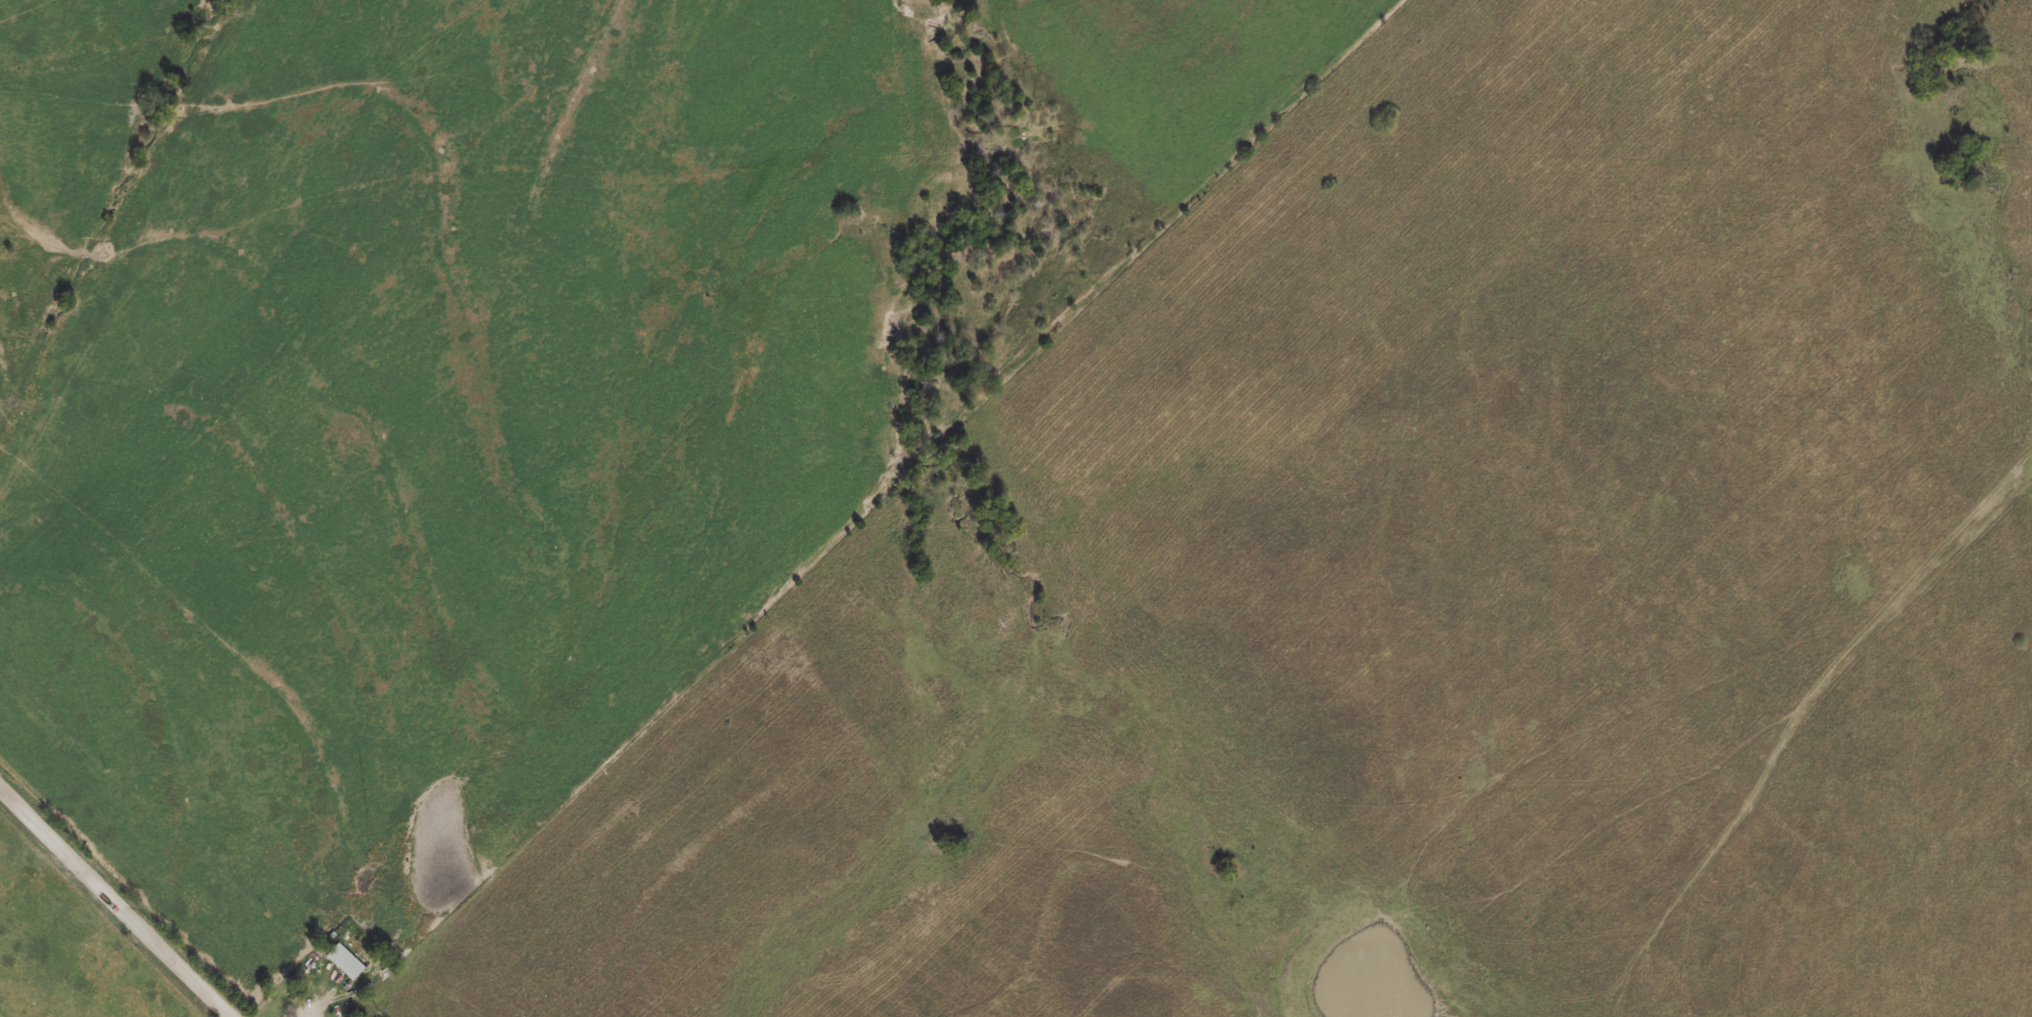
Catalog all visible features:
road: (114, 904)
building: (345, 961)

